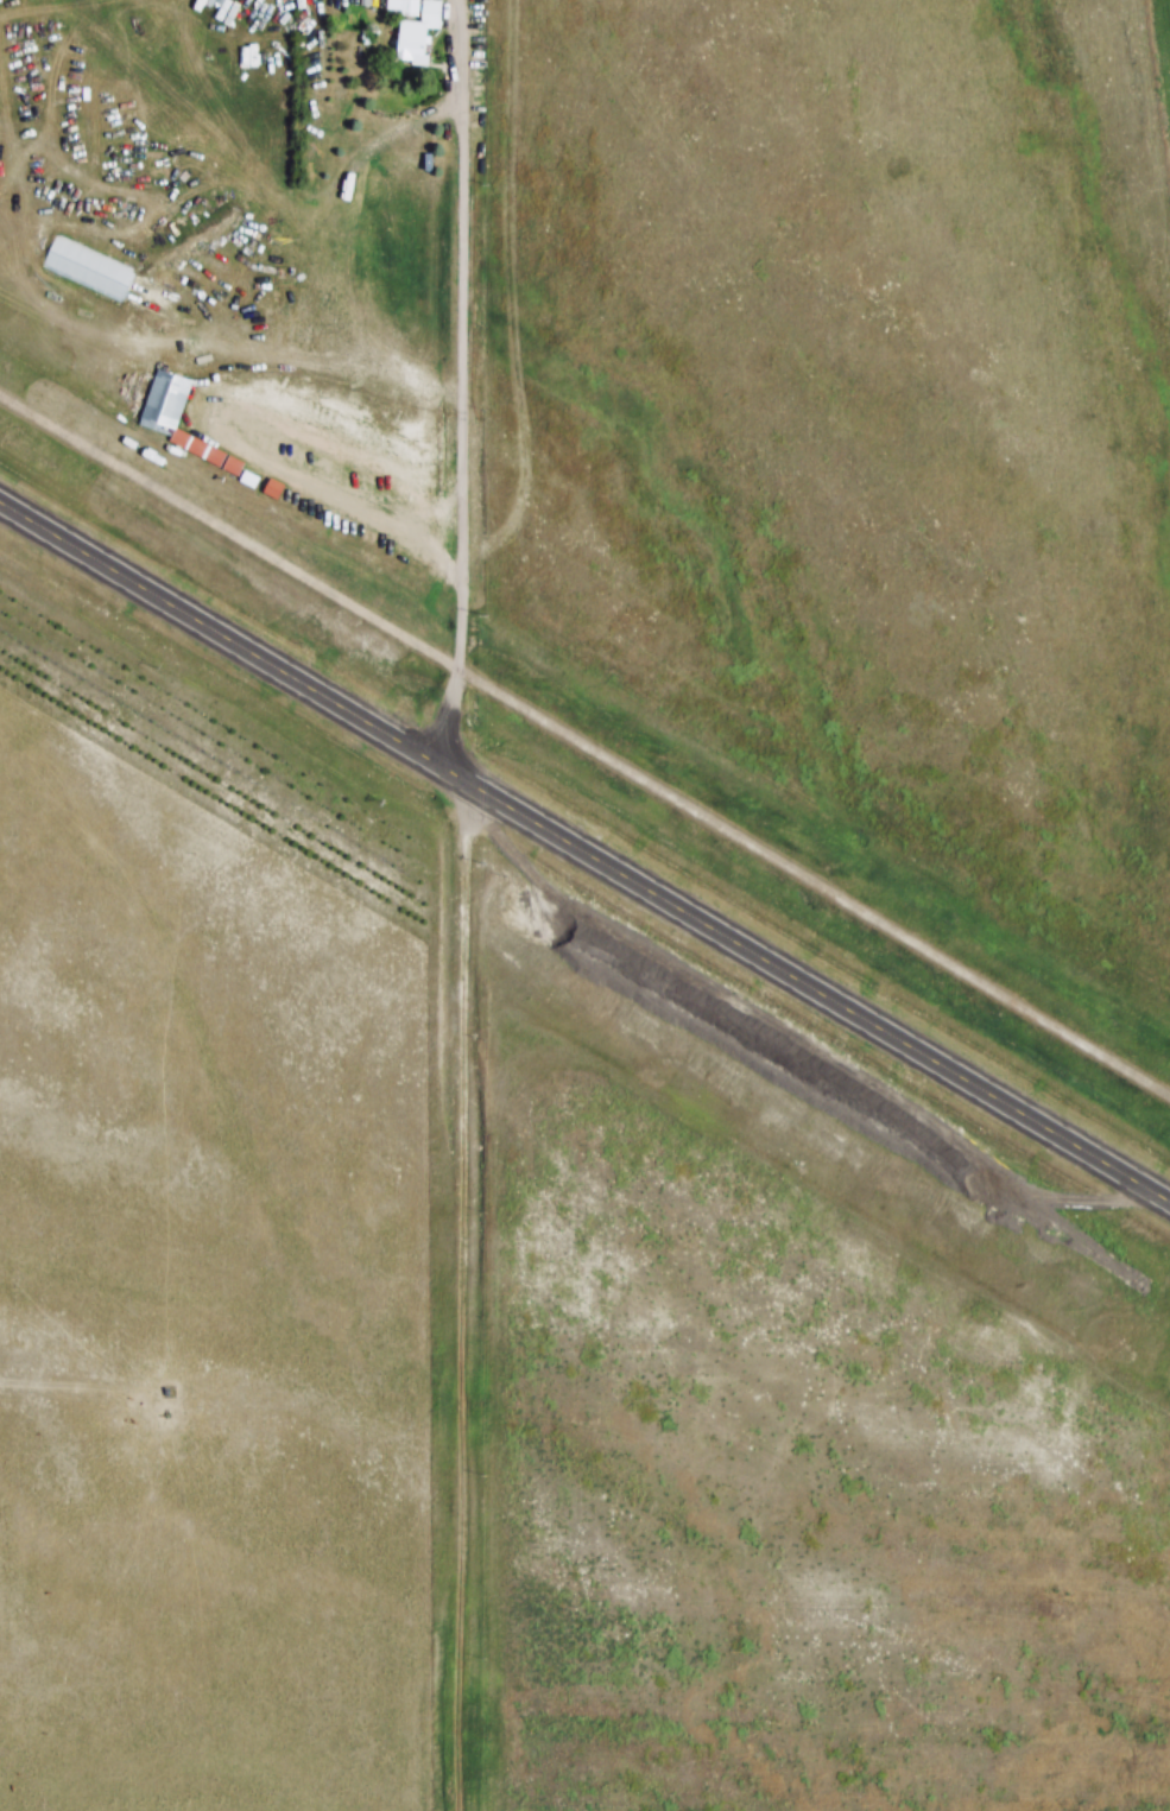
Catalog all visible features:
building: (417, 36)
road: (464, 197)
building: (88, 268)
building: (164, 404)
building: (230, 468)
road: (461, 581)
road: (584, 741)
road: (584, 849)
road: (461, 1296)

